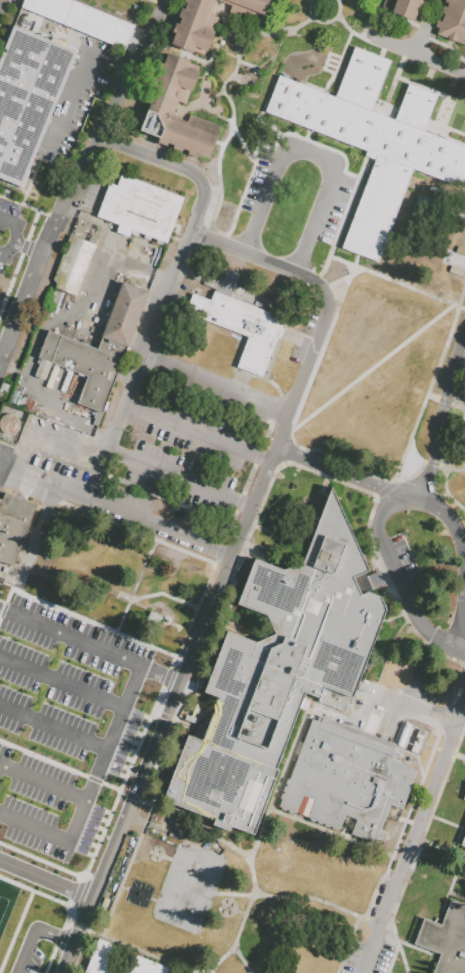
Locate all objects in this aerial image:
road: (0, 2)
building: (249, 5)
building: (402, 7)
building: (117, 8)
road: (341, 10)
road: (386, 14)
road: (434, 18)
building: (81, 20)
road: (370, 20)
road: (315, 22)
building: (452, 22)
road: (302, 23)
road: (234, 24)
building: (194, 25)
road: (275, 32)
road: (417, 39)
road: (56, 40)
road: (431, 40)
road: (237, 49)
road: (180, 51)
road: (342, 54)
road: (402, 54)
road: (445, 54)
road: (418, 56)
road: (111, 65)
road: (434, 66)
road: (464, 77)
road: (203, 80)
building: (27, 98)
parking lot: (79, 99)
road: (71, 102)
road: (203, 105)
building: (160, 110)
road: (233, 115)
road: (442, 126)
road: (307, 135)
road: (304, 139)
road: (228, 140)
building: (371, 141)
road: (311, 151)
road: (363, 164)
road: (177, 166)
road: (219, 174)
road: (76, 176)
road: (243, 193)
building: (140, 208)
building: (5, 224)
building: (87, 230)
road: (11, 234)
road: (25, 250)
building: (72, 265)
road: (272, 265)
road: (357, 268)
road: (341, 279)
road: (14, 280)
building: (0, 294)
road: (462, 298)
building: (49, 302)
building: (124, 315)
building: (240, 327)
road: (321, 330)
road: (282, 341)
building: (112, 348)
road: (138, 366)
building: (81, 368)
building: (376, 375)
road: (216, 381)
road: (241, 382)
road: (434, 397)
road: (426, 400)
road: (441, 414)
road: (196, 431)
road: (44, 434)
road: (2, 462)
parking lot: (161, 469)
road: (448, 469)
road: (336, 470)
road: (177, 477)
road: (38, 480)
road: (442, 510)
road: (156, 527)
building: (14, 528)
road: (134, 533)
road: (38, 537)
road: (307, 539)
road: (219, 556)
road: (401, 582)
road: (138, 602)
road: (399, 617)
road: (100, 627)
road: (220, 631)
road: (89, 643)
road: (390, 655)
road: (188, 658)
parking lot: (82, 671)
building: (279, 674)
road: (61, 680)
road: (408, 710)
building: (370, 722)
road: (185, 724)
road: (93, 745)
road: (460, 758)
road: (93, 773)
building: (345, 780)
road: (278, 788)
road: (158, 795)
building: (464, 798)
road: (79, 810)
road: (423, 816)
road: (198, 824)
road: (450, 824)
road: (339, 836)
building: (463, 843)
road: (443, 850)
road: (418, 851)
road: (45, 880)
road: (451, 890)
road: (457, 896)
road: (320, 902)
road: (33, 934)
road: (417, 934)
building: (446, 940)
road: (348, 945)
road: (374, 949)
road: (134, 950)
road: (418, 950)
building: (104, 958)
parking lot: (368, 958)
road: (404, 959)
road: (241, 960)
building: (147, 966)

